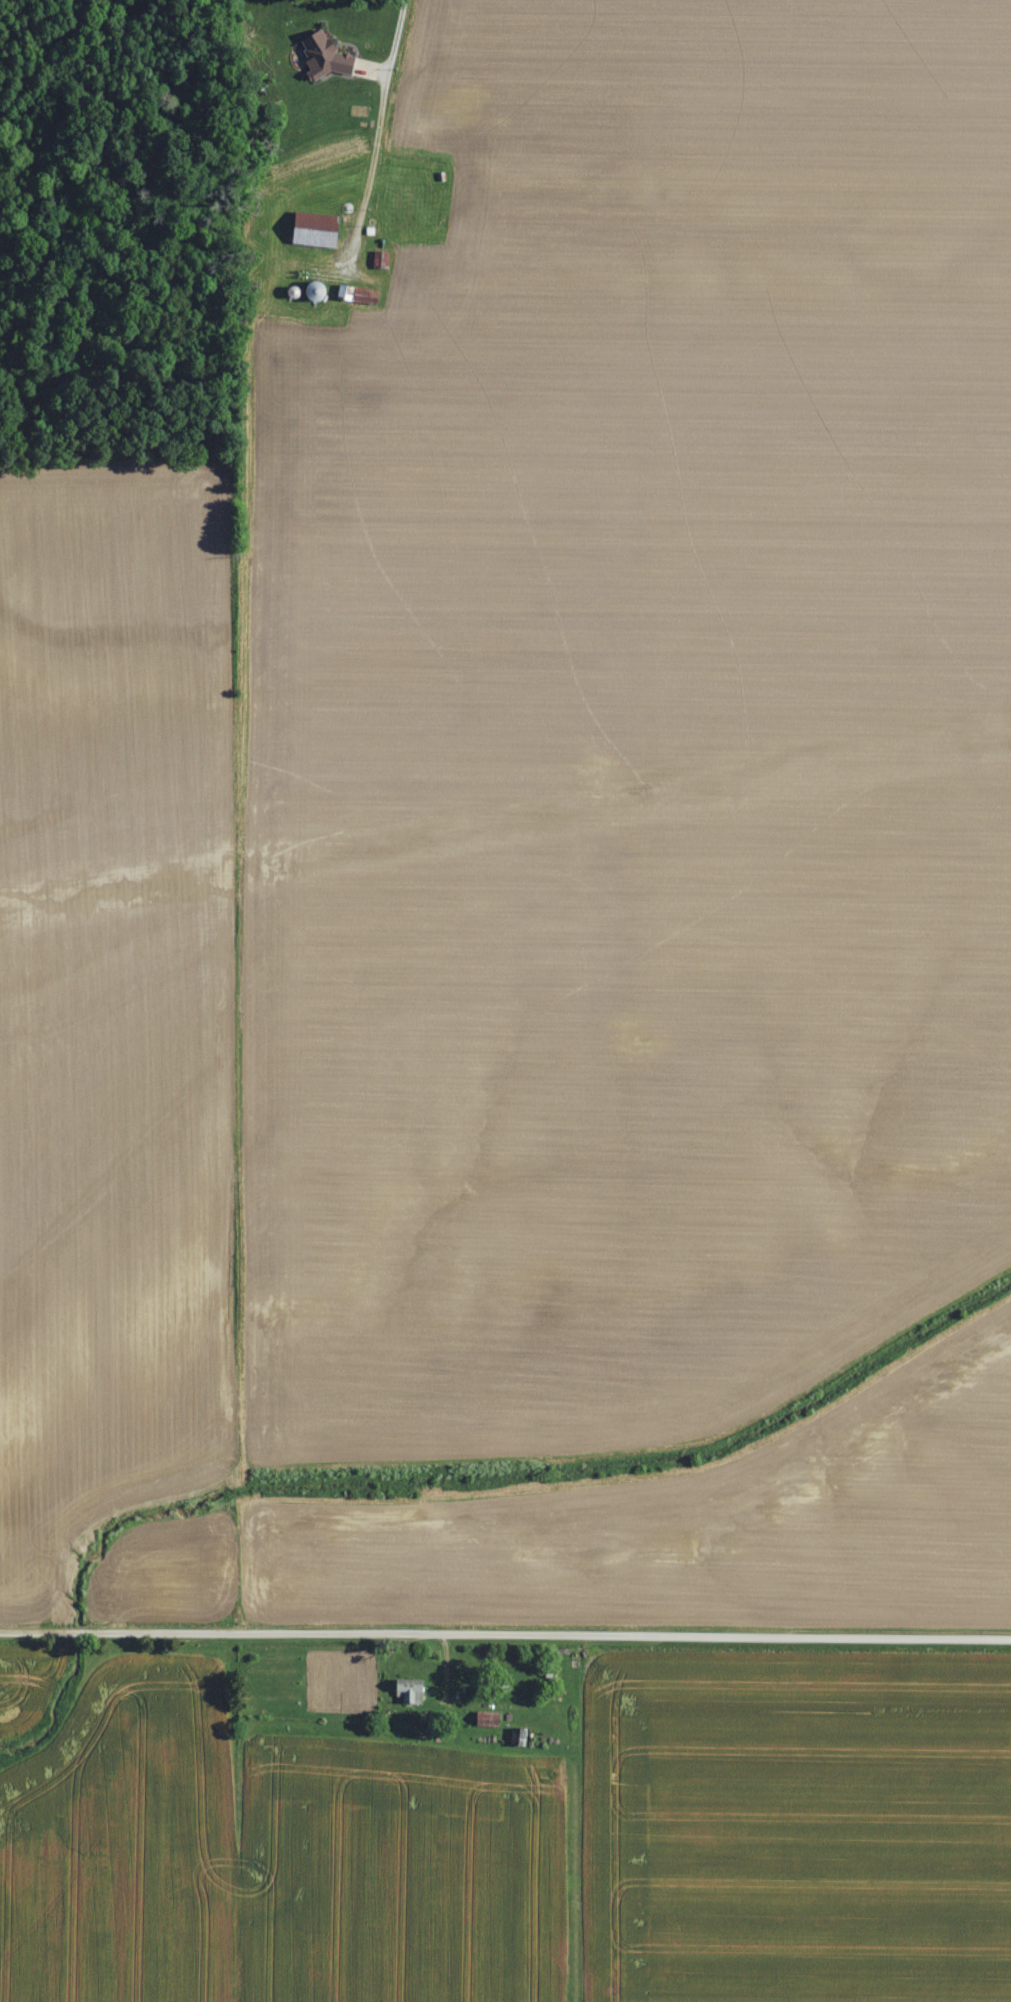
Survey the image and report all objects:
building: (328, 55)
road: (384, 107)
building: (320, 237)
building: (384, 258)
building: (347, 289)
building: (369, 294)
road: (505, 1634)
building: (412, 1689)

